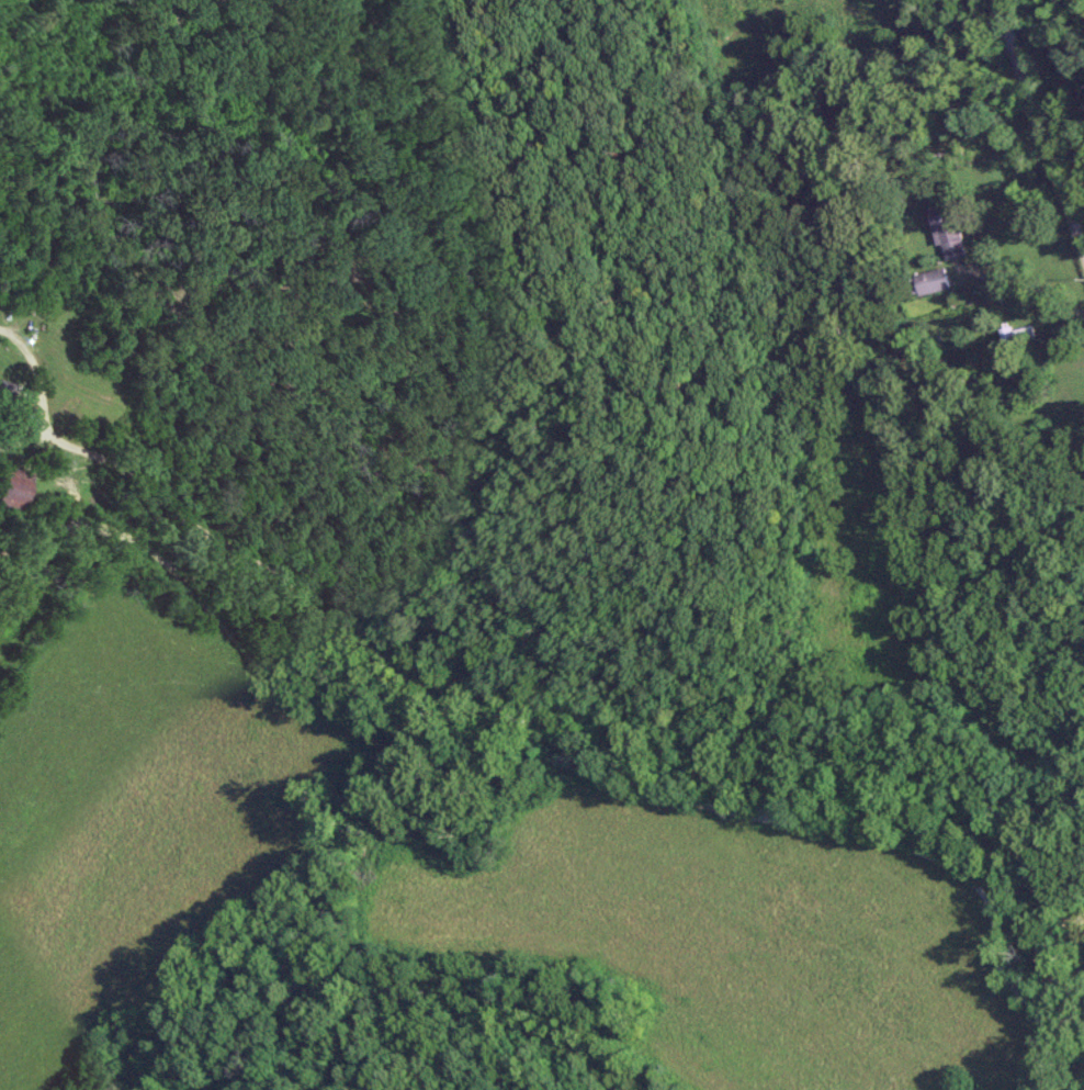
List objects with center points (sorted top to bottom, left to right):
road: (1039, 126)
building: (946, 231)
building: (929, 281)
building: (1015, 335)
building: (4, 390)
building: (12, 487)

